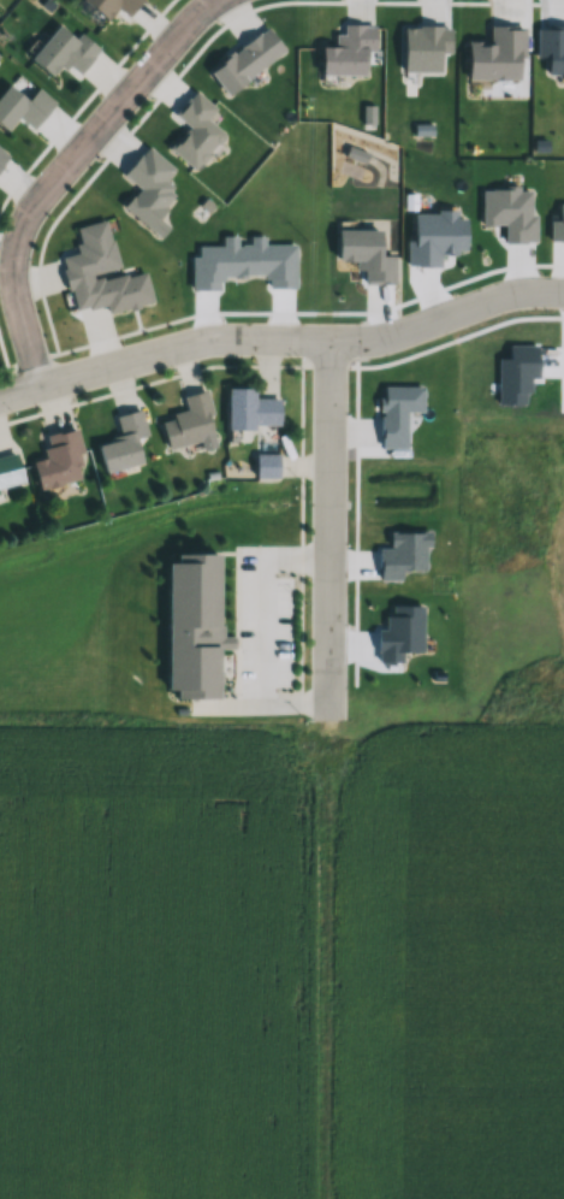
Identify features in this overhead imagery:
building: (64, 52)
building: (195, 131)
building: (2, 158)
road: (60, 172)
building: (97, 246)
road: (281, 337)
road: (315, 366)
road: (148, 382)
building: (251, 411)
building: (189, 423)
building: (123, 442)
building: (58, 461)
building: (266, 466)
building: (8, 471)
road: (328, 531)
road: (299, 538)
building: (192, 626)
crop: (447, 957)

